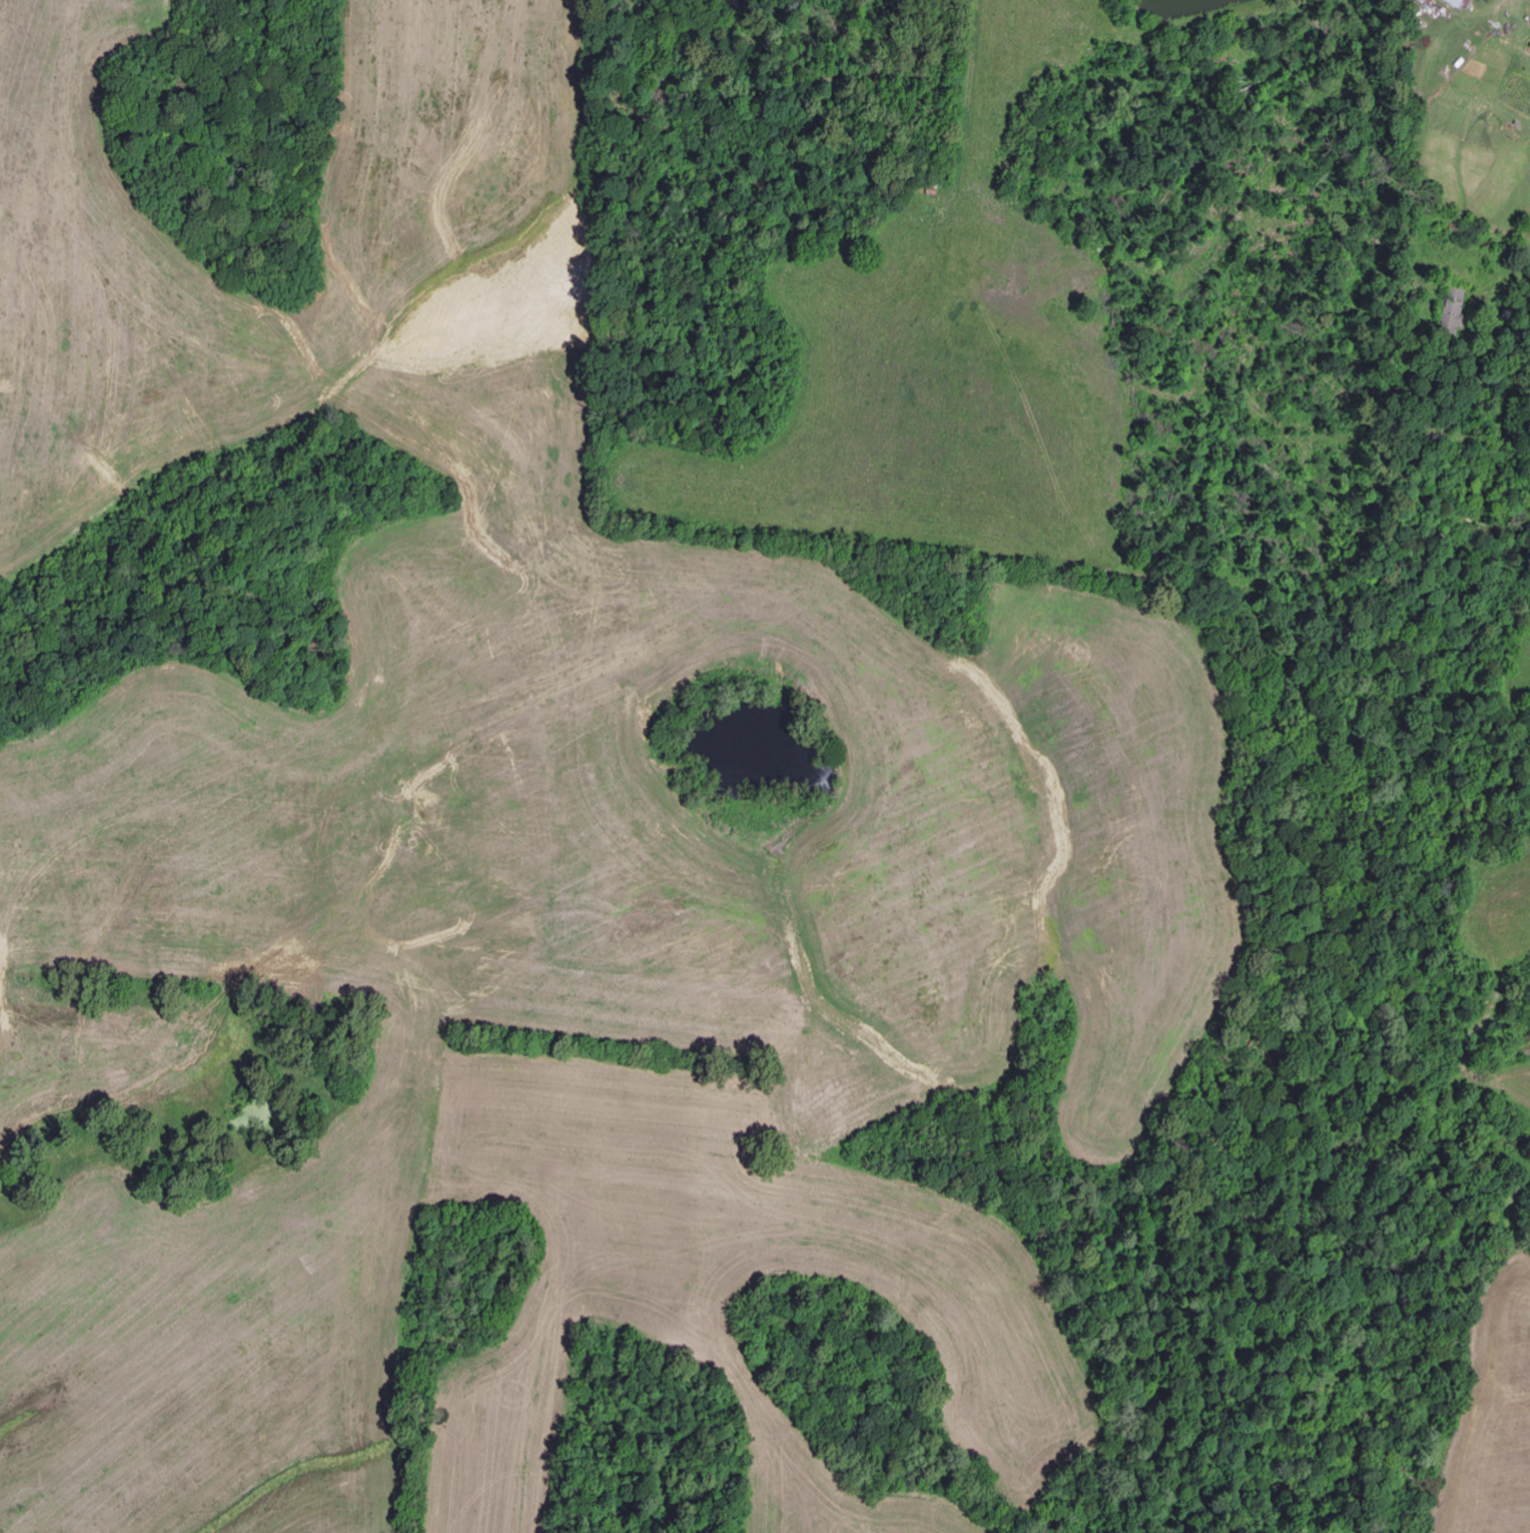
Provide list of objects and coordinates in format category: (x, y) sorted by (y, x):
building: (1460, 2)
road: (1492, 207)
building: (1455, 309)

